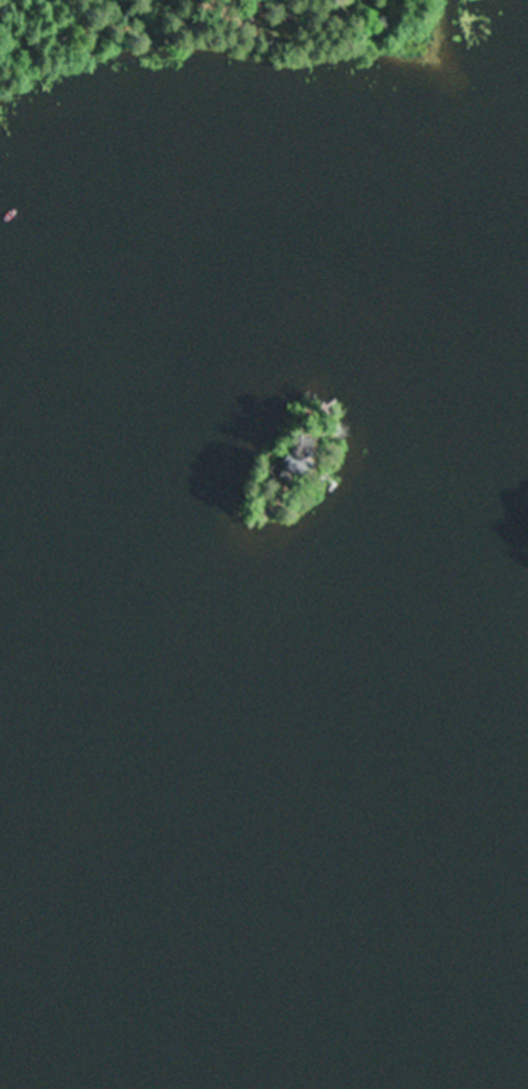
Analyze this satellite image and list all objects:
river: (264, 1036)

